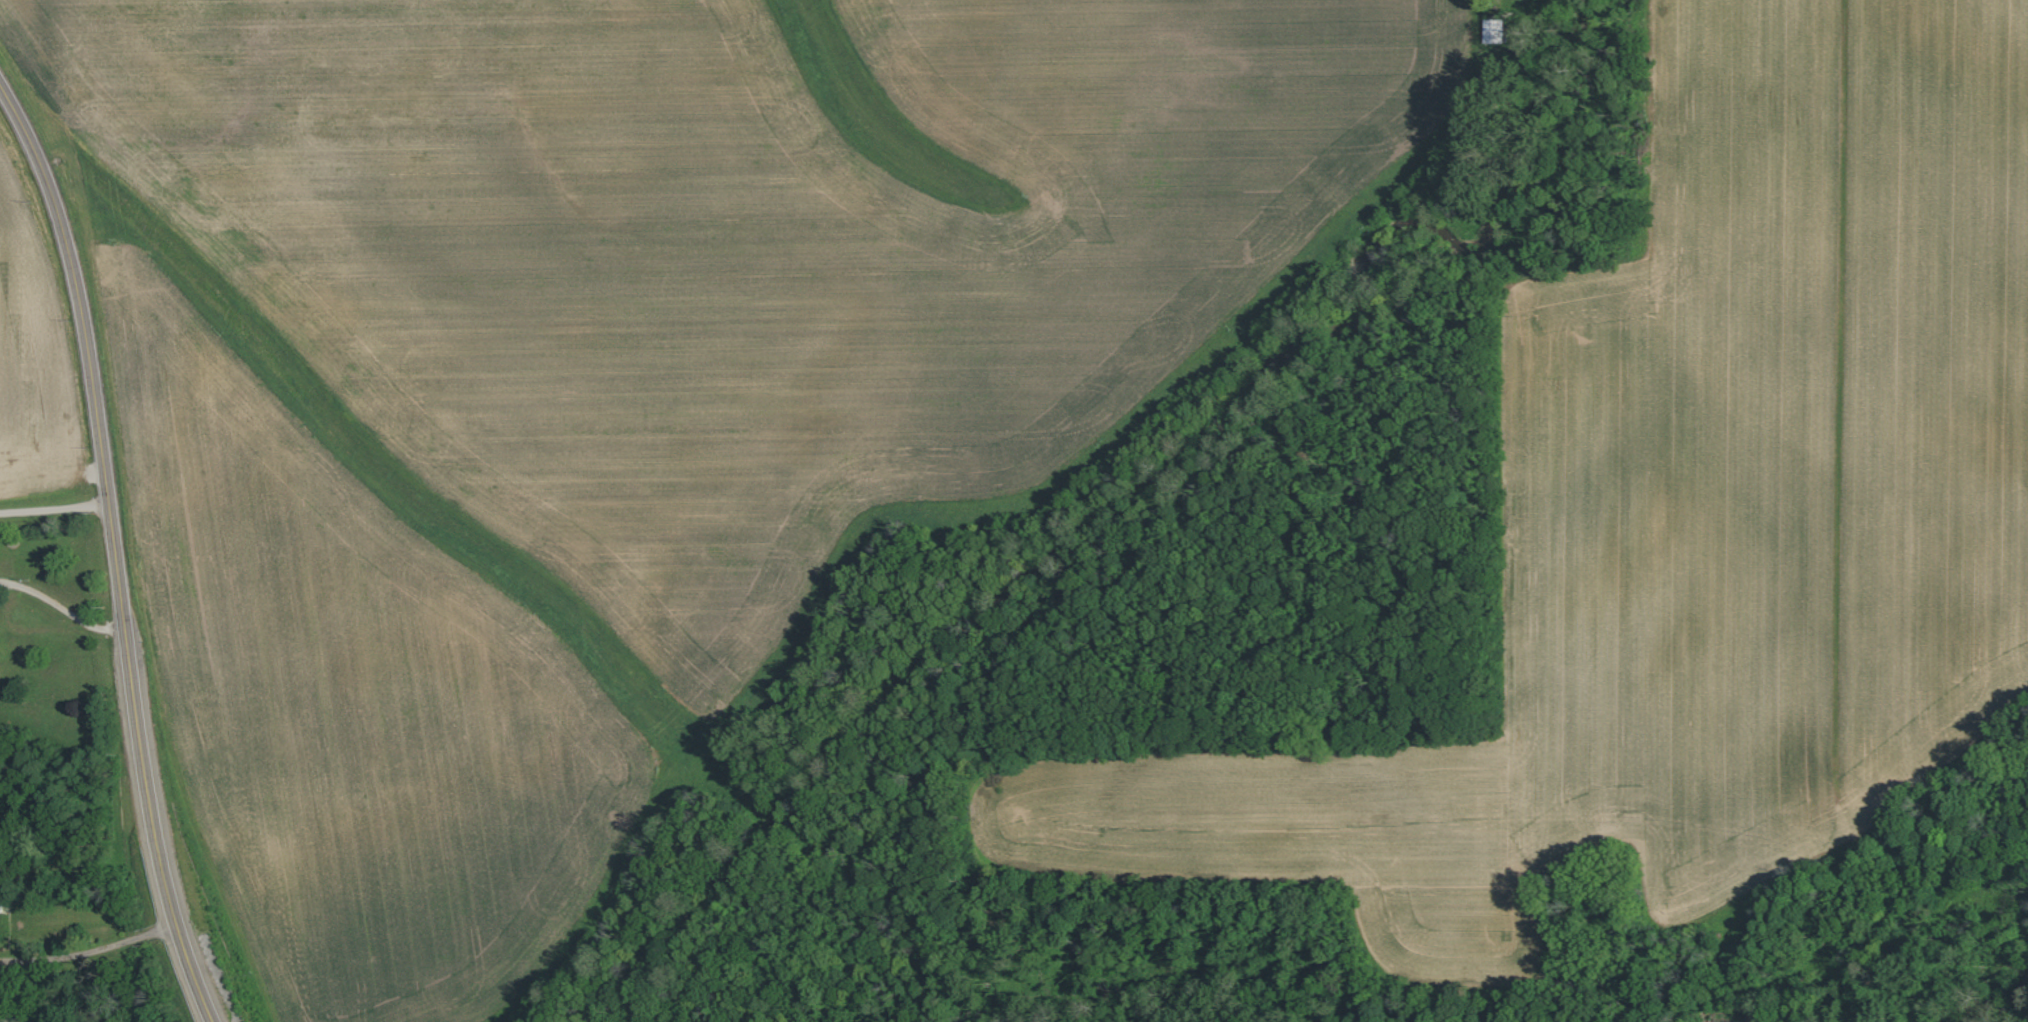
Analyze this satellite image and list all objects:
building: (1489, 31)
road: (56, 509)
road: (117, 548)
road: (63, 609)
building: (2, 897)
road: (92, 952)

